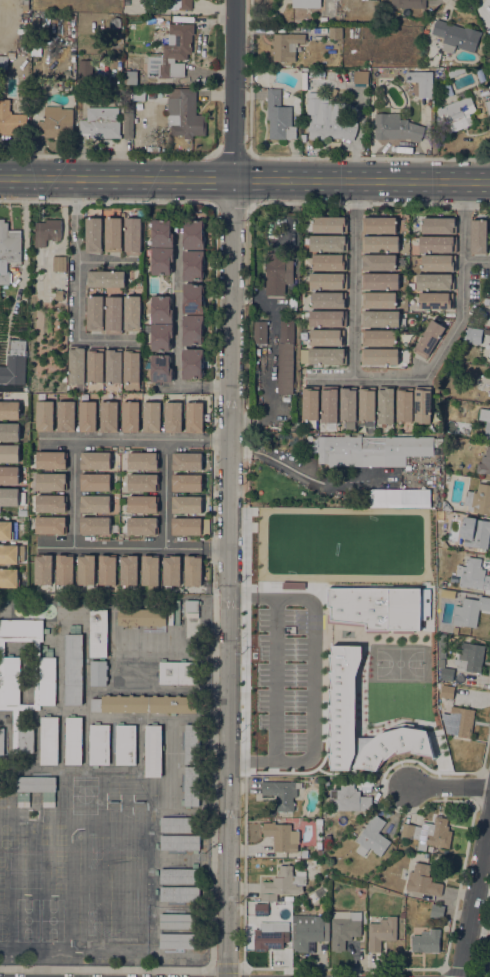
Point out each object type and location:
building: (126, 2)
road: (433, 2)
road: (486, 2)
building: (306, 3)
building: (180, 4)
building: (408, 4)
building: (25, 5)
road: (462, 9)
road: (447, 10)
building: (489, 15)
building: (72, 17)
building: (317, 21)
building: (115, 22)
building: (35, 23)
building: (335, 33)
building: (456, 36)
building: (489, 41)
building: (286, 46)
building: (172, 52)
building: (3, 62)
building: (83, 71)
building: (455, 71)
building: (360, 76)
building: (130, 77)
building: (421, 82)
building: (127, 101)
building: (488, 105)
building: (184, 113)
building: (456, 114)
building: (279, 117)
building: (12, 120)
building: (329, 120)
building: (55, 122)
building: (101, 122)
building: (128, 125)
building: (396, 127)
building: (303, 138)
road: (105, 156)
road: (233, 157)
road: (293, 157)
road: (89, 179)
road: (206, 179)
road: (255, 180)
road: (383, 181)
road: (362, 204)
building: (329, 224)
building: (379, 225)
building: (439, 225)
building: (47, 231)
building: (162, 233)
building: (193, 234)
building: (93, 235)
building: (113, 235)
building: (133, 236)
building: (479, 237)
building: (328, 243)
building: (380, 244)
building: (437, 244)
building: (8, 249)
building: (489, 249)
building: (489, 250)
road: (77, 259)
building: (161, 260)
road: (100, 261)
building: (329, 261)
building: (379, 262)
building: (59, 263)
building: (438, 263)
building: (193, 265)
building: (278, 270)
building: (106, 279)
road: (354, 279)
building: (328, 281)
building: (380, 282)
building: (435, 282)
road: (462, 285)
building: (58, 295)
building: (193, 298)
building: (329, 300)
building: (379, 301)
building: (436, 301)
building: (292, 303)
building: (161, 309)
road: (178, 309)
building: (94, 312)
building: (132, 313)
building: (113, 315)
building: (327, 318)
building: (379, 319)
building: (193, 330)
building: (259, 332)
building: (473, 335)
building: (160, 336)
building: (327, 337)
building: (378, 338)
building: (429, 338)
road: (106, 339)
building: (257, 351)
building: (323, 355)
building: (379, 356)
building: (285, 362)
building: (192, 363)
building: (14, 364)
building: (77, 364)
building: (96, 365)
building: (114, 365)
building: (161, 368)
building: (132, 369)
road: (365, 378)
building: (489, 387)
road: (191, 388)
building: (489, 398)
building: (310, 405)
building: (405, 405)
building: (329, 406)
building: (386, 406)
building: (422, 406)
building: (367, 407)
building: (348, 408)
building: (9, 410)
building: (44, 416)
building: (66, 416)
building: (87, 417)
building: (108, 417)
building: (130, 417)
building: (151, 417)
building: (173, 417)
building: (194, 417)
building: (486, 422)
building: (9, 432)
road: (135, 439)
building: (373, 448)
building: (9, 453)
building: (51, 460)
building: (95, 461)
building: (143, 461)
building: (187, 461)
building: (484, 462)
building: (9, 476)
building: (50, 481)
building: (142, 482)
building: (95, 483)
building: (187, 483)
road: (230, 488)
road: (73, 493)
road: (164, 494)
building: (9, 497)
building: (400, 499)
building: (478, 499)
building: (50, 503)
building: (95, 504)
building: (142, 505)
building: (187, 505)
building: (446, 506)
building: (351, 523)
building: (50, 525)
building: (97, 526)
building: (142, 526)
building: (190, 526)
building: (5, 531)
building: (475, 532)
road: (133, 548)
building: (11, 554)
building: (287, 562)
building: (329, 570)
building: (171, 571)
building: (193, 572)
building: (43, 573)
building: (64, 573)
building: (86, 573)
building: (107, 573)
building: (129, 574)
building: (150, 574)
building: (473, 575)
building: (9, 581)
building: (192, 606)
building: (377, 607)
building: (470, 611)
building: (141, 617)
building: (449, 630)
building: (98, 632)
building: (442, 646)
building: (470, 657)
building: (73, 669)
building: (98, 672)
building: (445, 672)
building: (178, 673)
road: (276, 679)
road: (312, 679)
building: (43, 680)
building: (447, 691)
building: (145, 704)
building: (343, 704)
building: (463, 720)
building: (49, 740)
building: (73, 740)
building: (1, 741)
building: (99, 744)
building: (126, 744)
building: (192, 744)
building: (393, 747)
building: (153, 751)
road: (483, 757)
building: (36, 784)
building: (191, 786)
road: (446, 787)
building: (281, 793)
building: (350, 798)
building: (23, 799)
building: (49, 799)
building: (179, 824)
building: (319, 833)
building: (429, 833)
building: (281, 836)
building: (372, 837)
building: (327, 838)
building: (180, 842)
building: (319, 852)
building: (179, 875)
building: (423, 880)
building: (282, 884)
building: (359, 892)
building: (179, 893)
road: (474, 899)
building: (299, 908)
building: (261, 909)
building: (437, 911)
building: (364, 918)
building: (179, 921)
building: (344, 928)
building: (308, 931)
building: (381, 933)
building: (268, 938)
road: (482, 939)
building: (178, 940)
building: (426, 941)
road: (478, 943)

